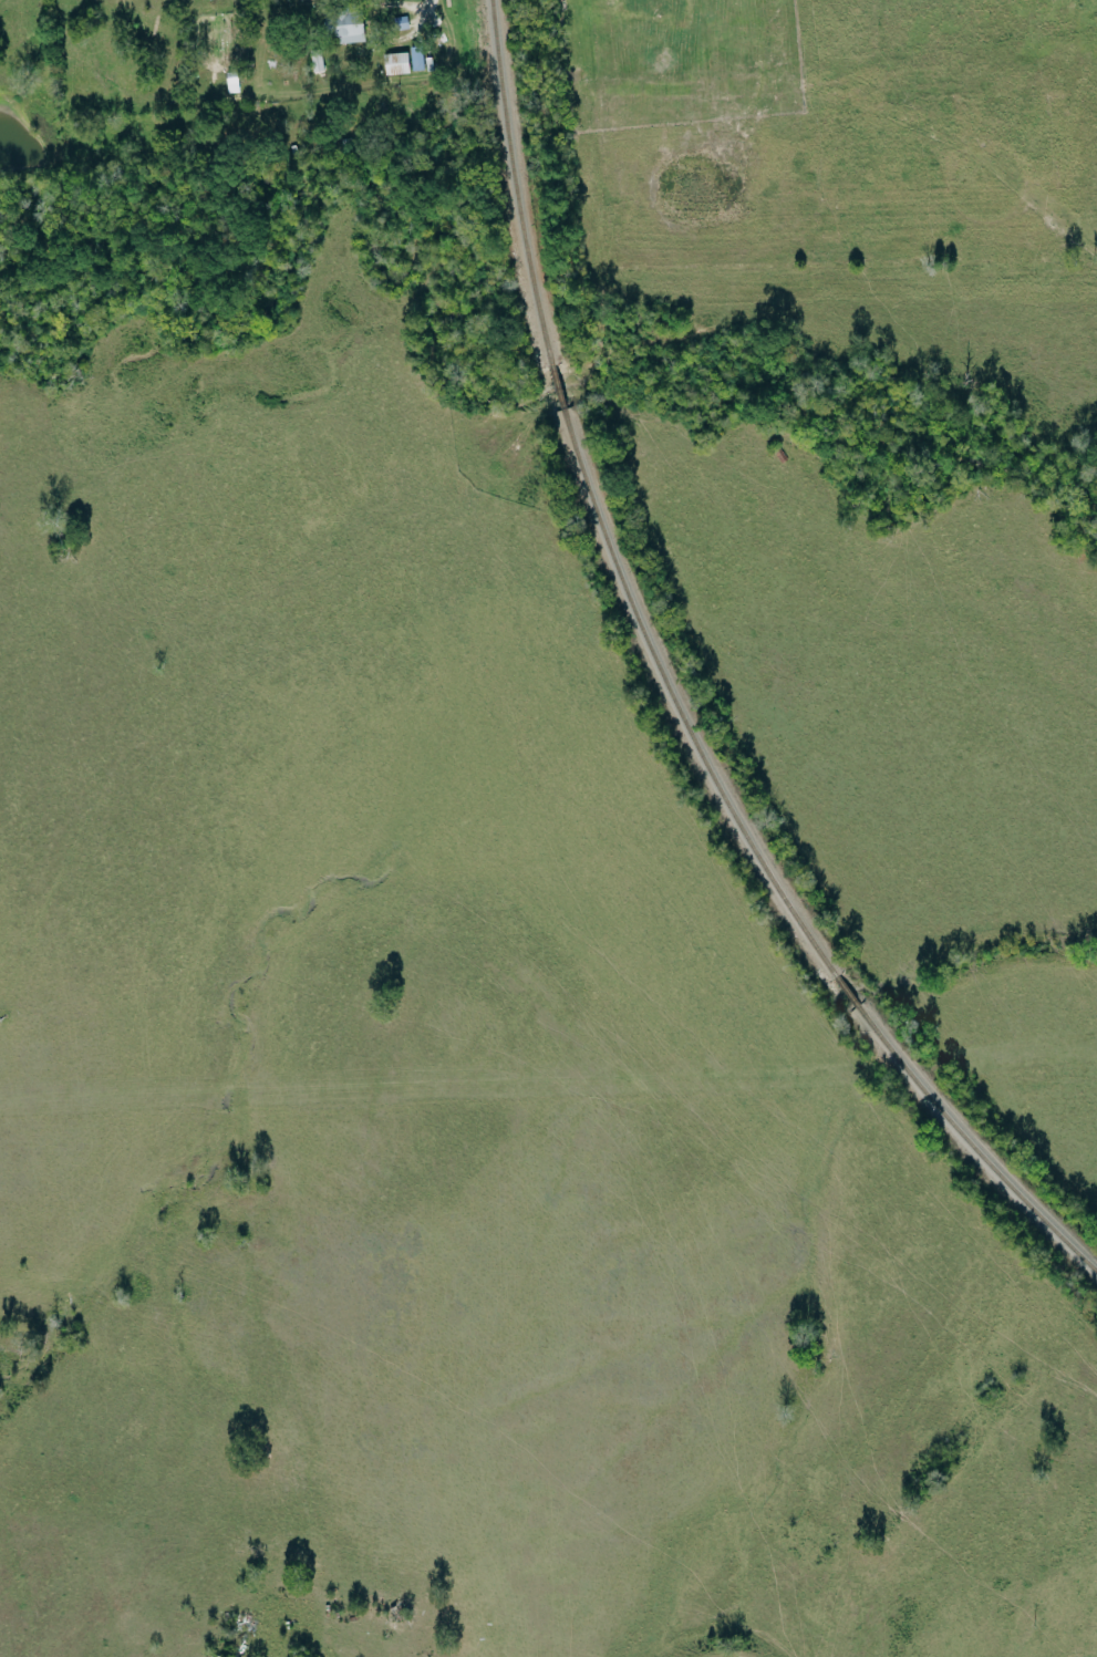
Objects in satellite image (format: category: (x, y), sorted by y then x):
building: (351, 28)
building: (397, 63)
railway: (513, 182)
railway: (557, 387)
railway: (675, 704)
railway: (847, 992)
railway: (971, 1146)

